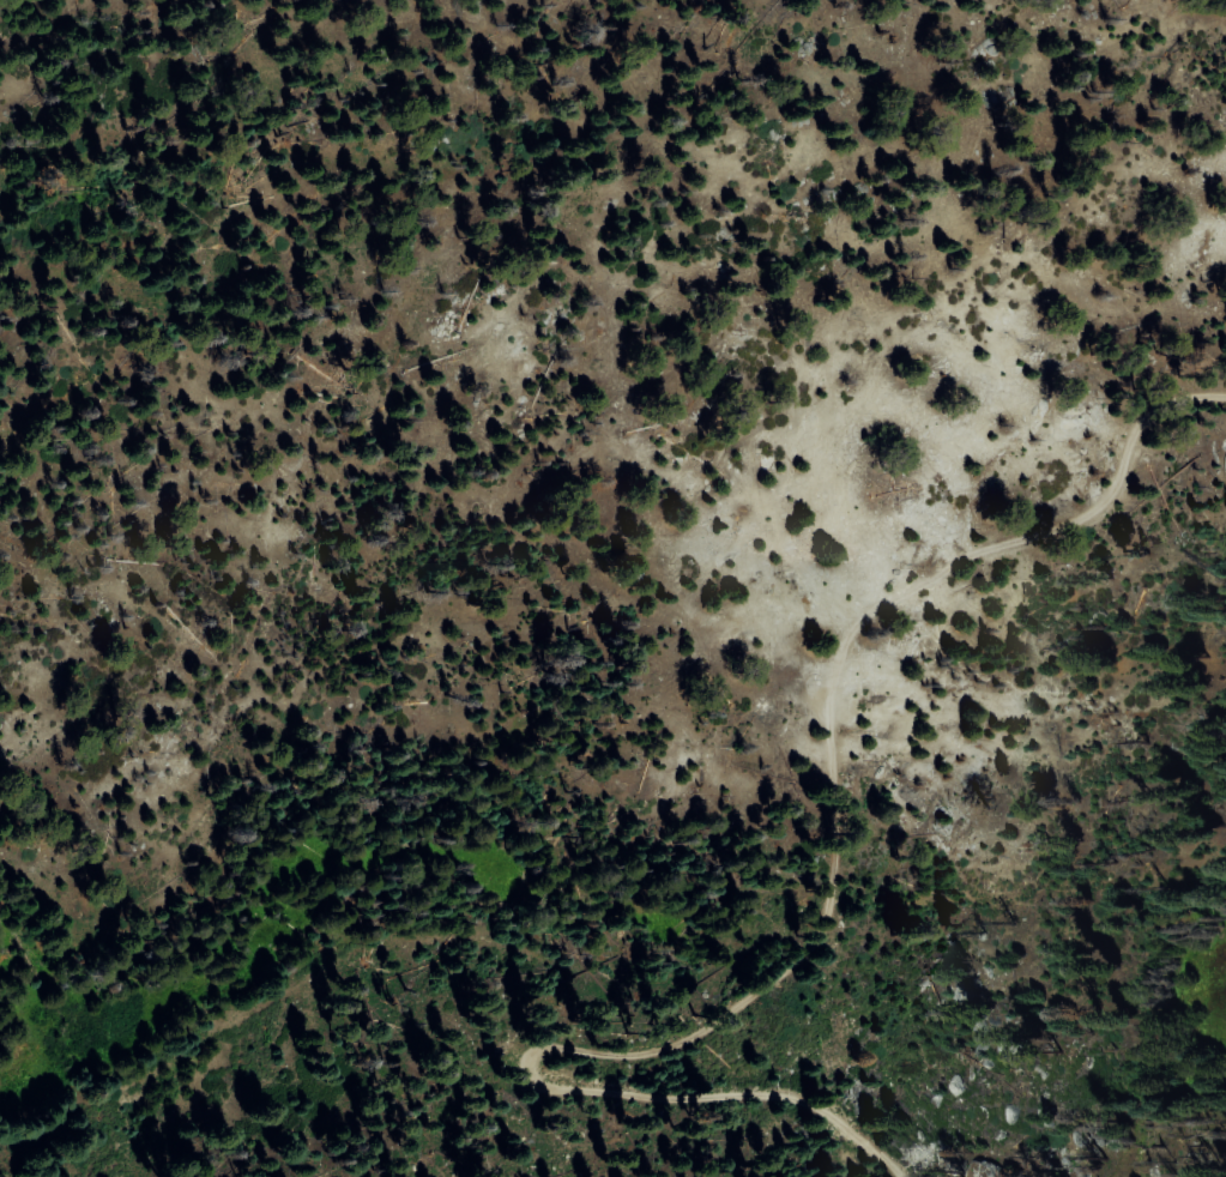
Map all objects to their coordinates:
road: (822, 922)

